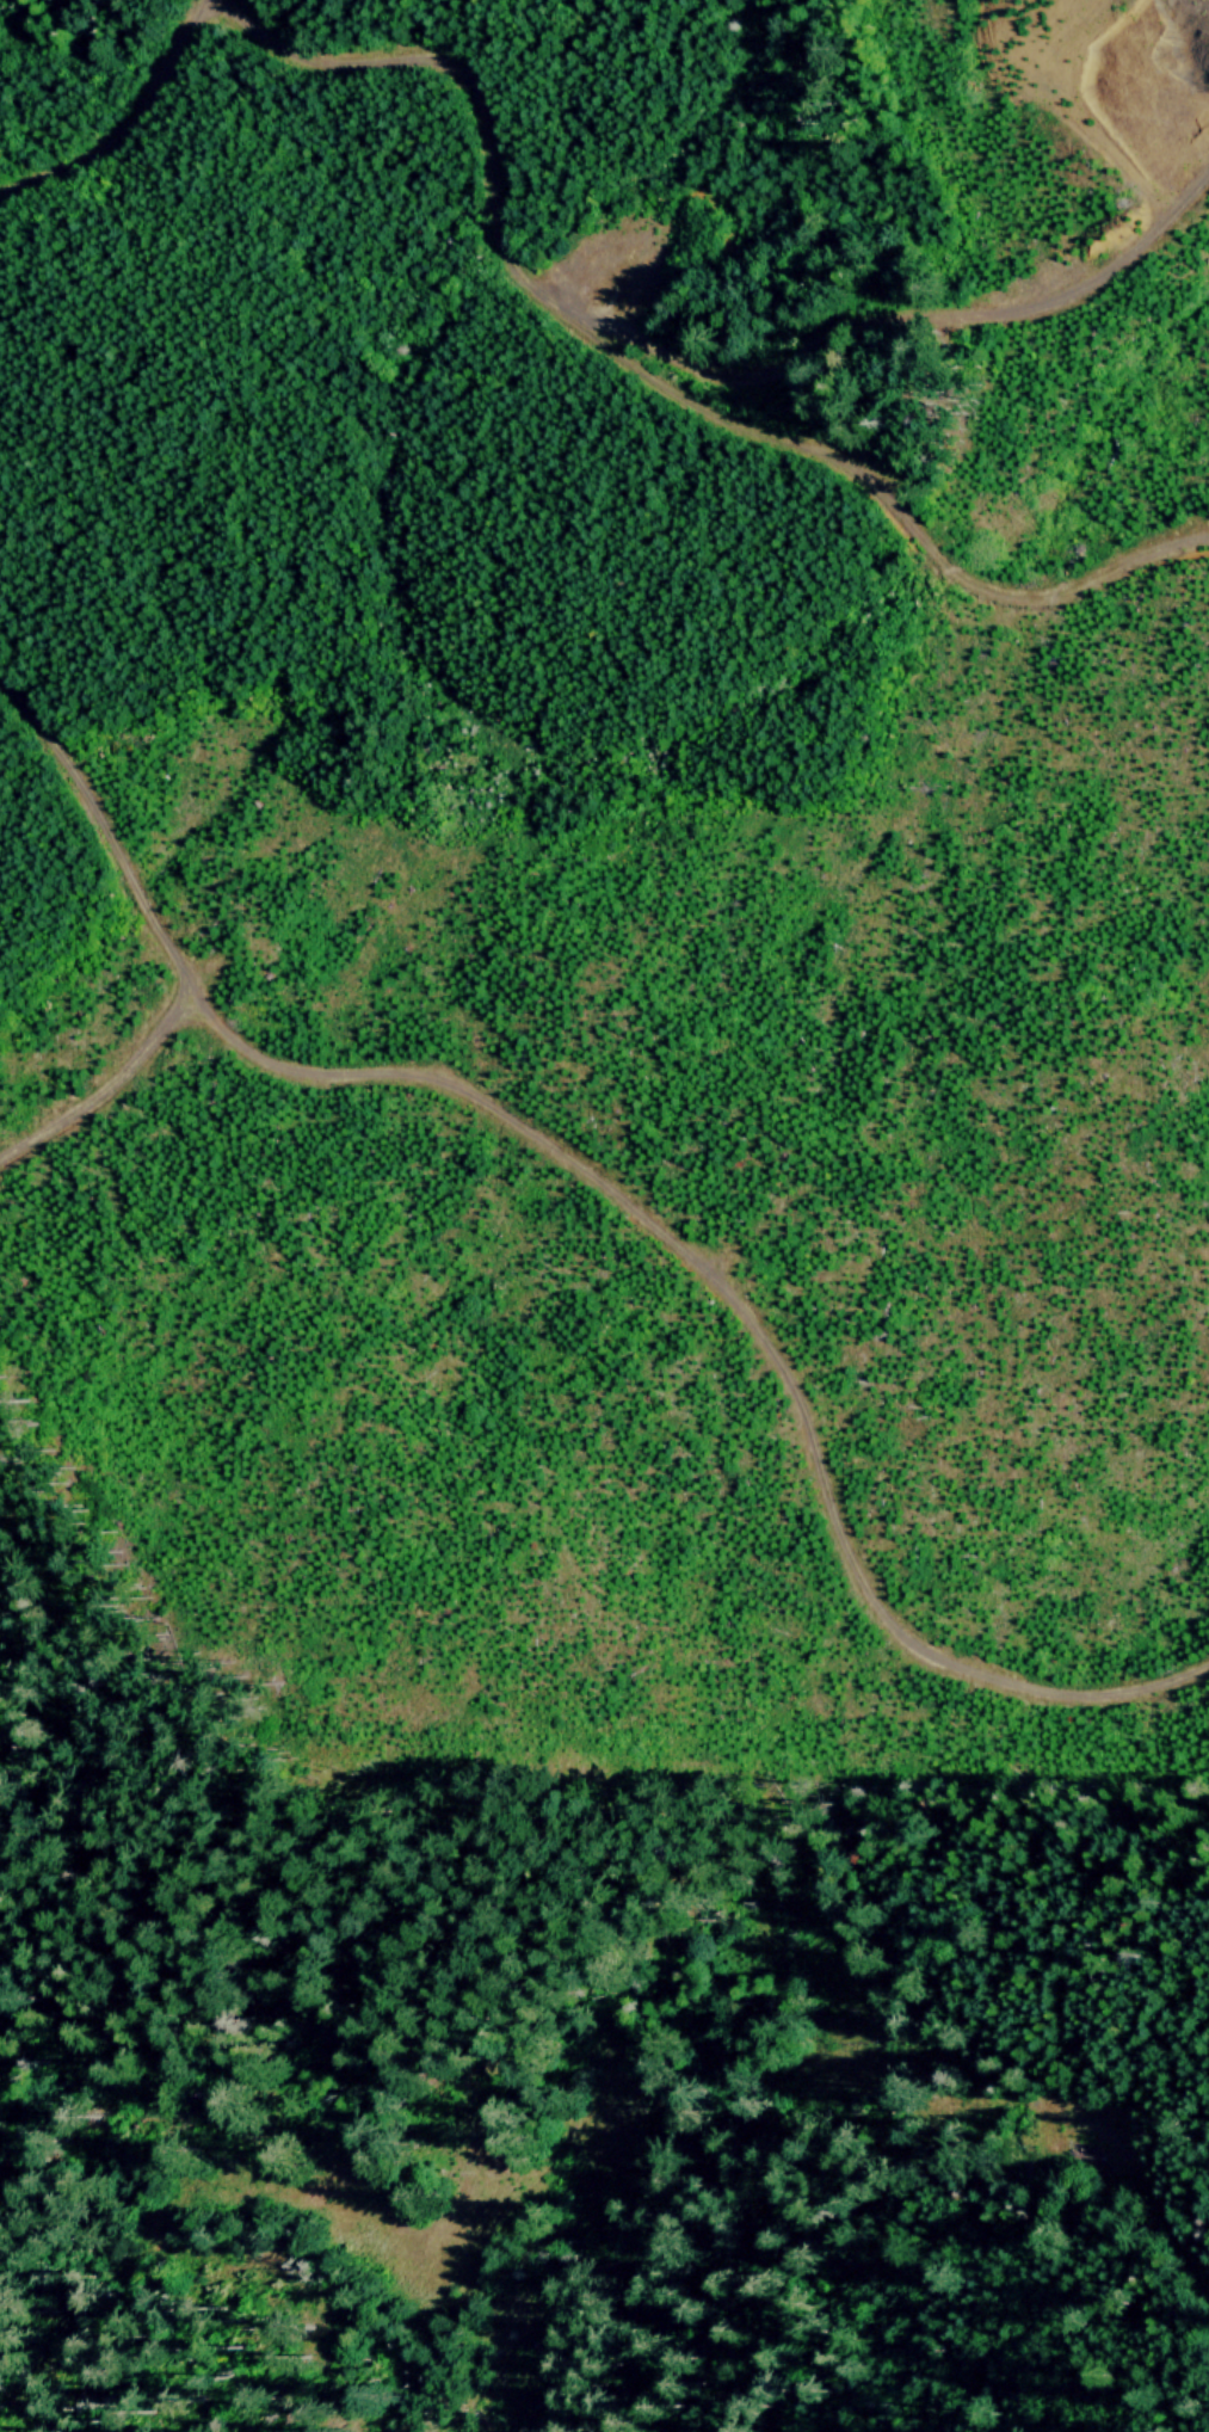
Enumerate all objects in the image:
road: (116, 113)
road: (283, 177)
road: (623, 1197)
road: (580, 1845)
road: (1146, 2187)

